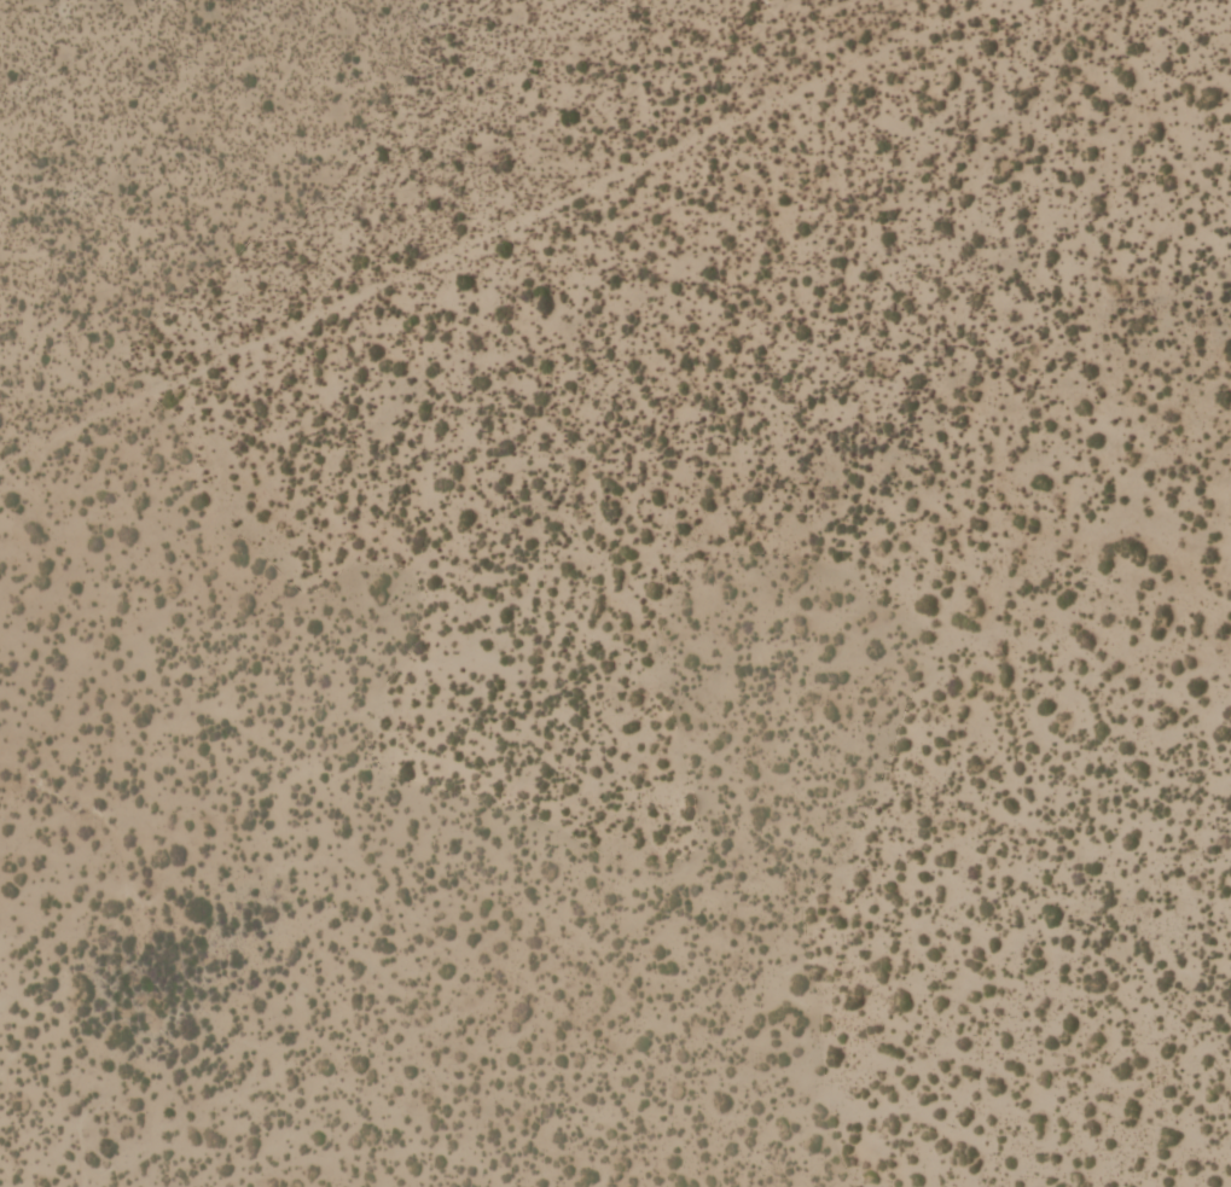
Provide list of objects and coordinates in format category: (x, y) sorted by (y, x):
road: (492, 223)

